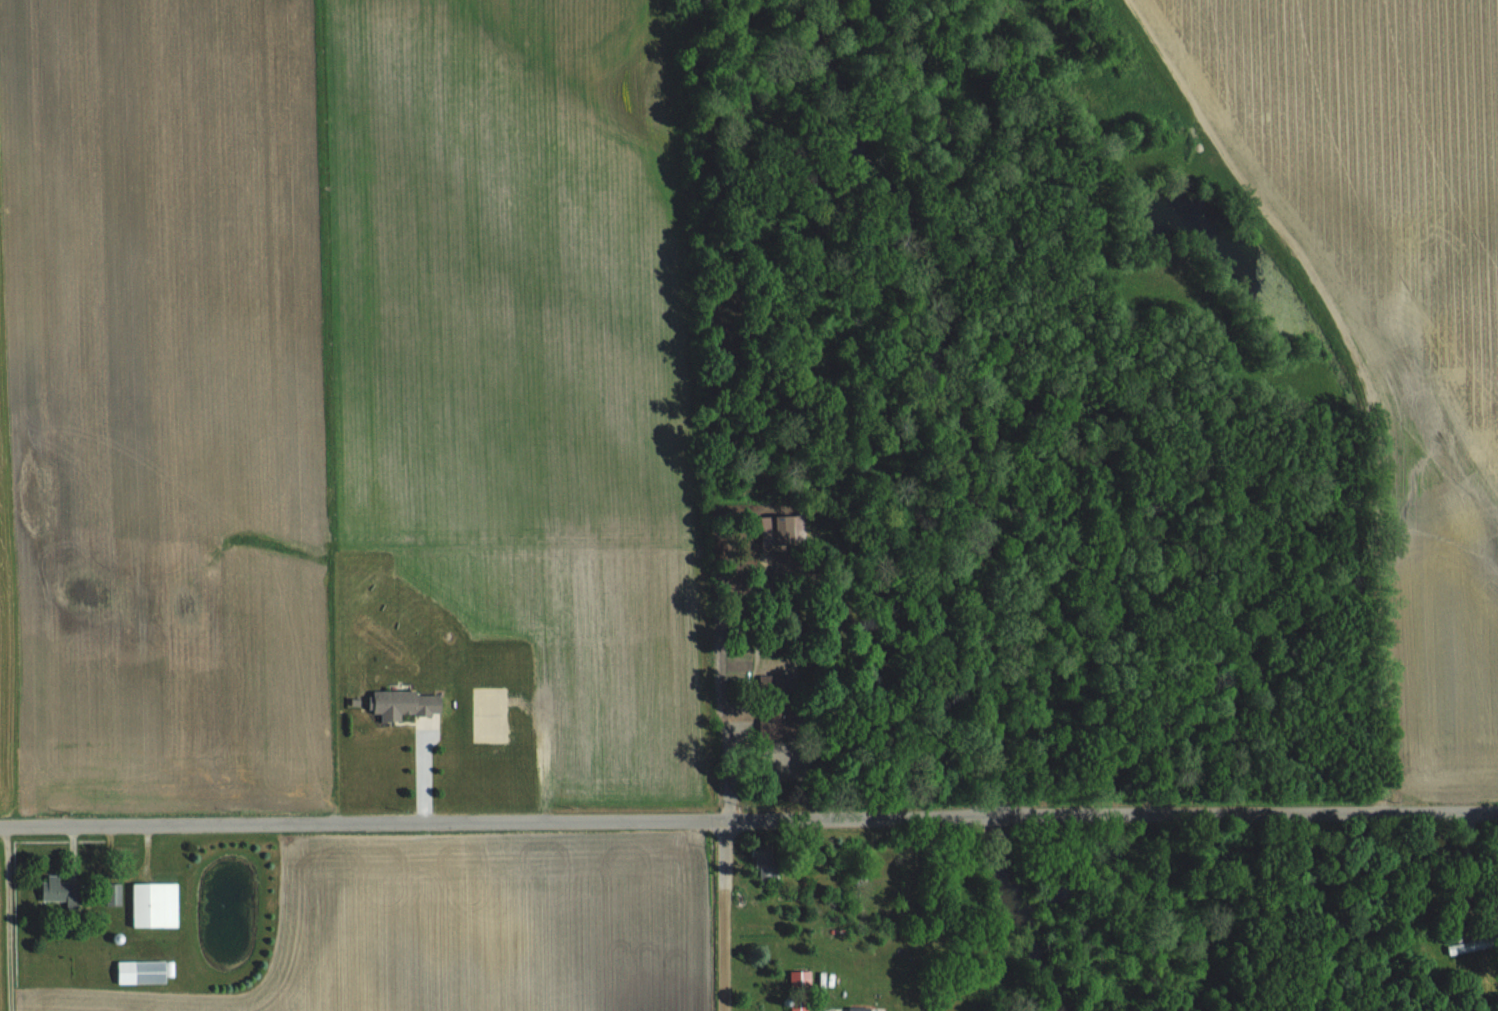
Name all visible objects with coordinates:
building: (787, 530)
building: (409, 703)
building: (776, 726)
road: (425, 773)
road: (1108, 814)
road: (359, 825)
building: (57, 887)
building: (157, 904)
road: (719, 917)
building: (1471, 946)
building: (145, 971)
building: (865, 1008)

